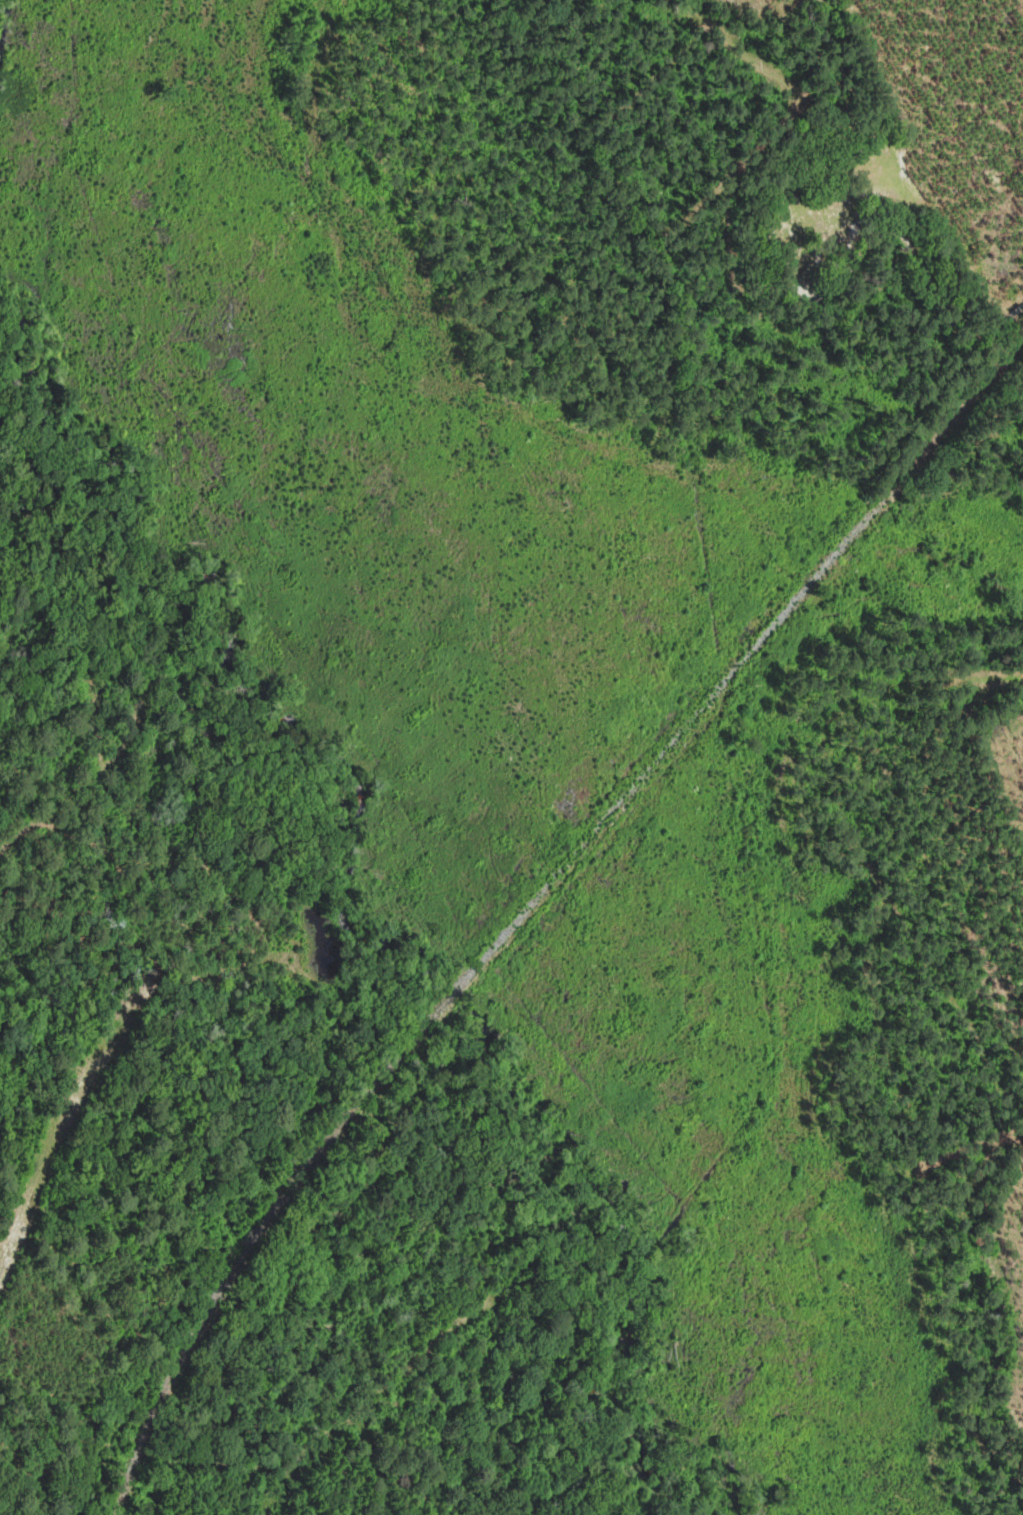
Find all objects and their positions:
railway: (539, 907)
building: (114, 924)

